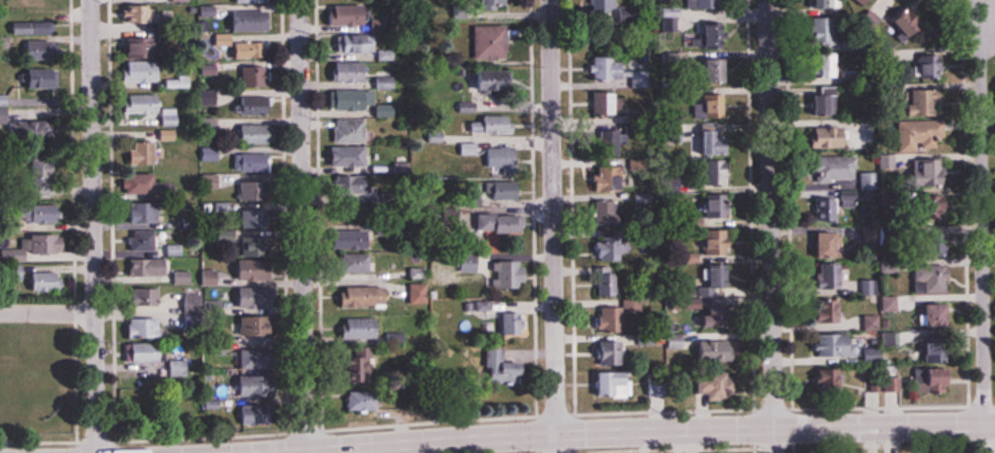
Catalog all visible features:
building: (254, 1)
building: (722, 3)
building: (819, 3)
building: (608, 5)
building: (42, 6)
building: (141, 15)
building: (350, 15)
building: (251, 21)
building: (35, 27)
building: (826, 30)
building: (491, 39)
building: (356, 43)
building: (42, 47)
building: (152, 47)
building: (248, 50)
building: (621, 65)
building: (830, 65)
building: (930, 65)
building: (143, 71)
building: (352, 72)
building: (45, 78)
building: (252, 78)
building: (489, 80)
building: (179, 81)
building: (209, 97)
building: (357, 99)
building: (828, 100)
building: (612, 102)
building: (927, 102)
building: (709, 105)
building: (256, 106)
building: (152, 107)
building: (4, 109)
building: (499, 124)
building: (351, 130)
building: (35, 131)
building: (169, 134)
building: (258, 134)
building: (920, 134)
building: (831, 136)
building: (710, 137)
building: (624, 139)
building: (148, 153)
building: (211, 153)
building: (349, 156)
building: (252, 162)
building: (839, 166)
building: (931, 174)
building: (610, 178)
building: (869, 179)
building: (212, 181)
building: (148, 184)
building: (360, 184)
building: (508, 189)
building: (937, 202)
building: (47, 212)
building: (146, 212)
building: (609, 212)
building: (500, 222)
road: (94, 226)
road: (303, 226)
road: (553, 226)
road: (773, 226)
road: (980, 226)
building: (352, 238)
building: (144, 240)
building: (717, 243)
building: (831, 243)
building: (36, 247)
building: (609, 247)
building: (157, 266)
building: (492, 269)
building: (835, 275)
building: (185, 276)
building: (211, 277)
building: (934, 278)
building: (723, 280)
building: (49, 281)
building: (611, 282)
building: (867, 286)
building: (366, 295)
building: (167, 302)
building: (832, 312)
building: (937, 314)
building: (719, 316)
building: (612, 319)
building: (873, 321)
building: (515, 323)
building: (146, 327)
building: (363, 328)
building: (678, 341)
building: (835, 344)
building: (717, 350)
building: (149, 352)
building: (611, 352)
building: (493, 357)
building: (371, 365)
building: (180, 368)
building: (842, 380)
building: (937, 380)
building: (258, 385)
building: (615, 385)
building: (717, 386)
building: (366, 400)
building: (259, 414)
road: (643, 433)

